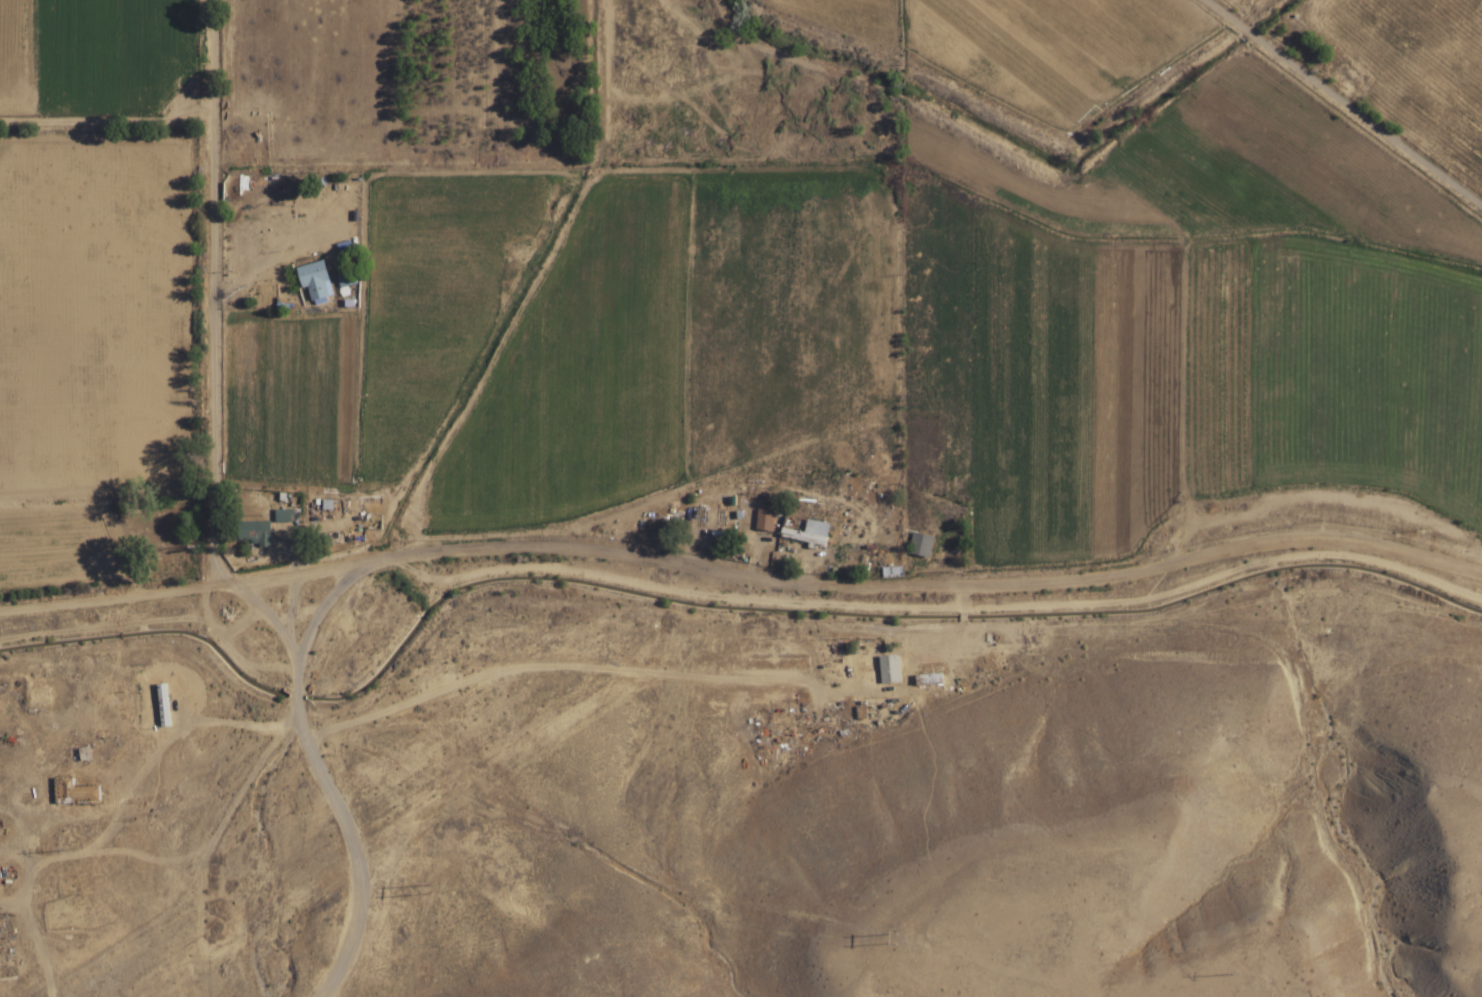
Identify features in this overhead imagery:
road: (1345, 101)
road: (109, 120)
road: (278, 240)
building: (315, 280)
building: (347, 282)
road: (217, 292)
building: (715, 519)
building: (765, 519)
building: (255, 531)
building: (809, 533)
building: (921, 544)
road: (923, 585)
road: (180, 589)
building: (890, 669)
building: (929, 679)
building: (41, 695)
building: (162, 704)
building: (79, 755)
road: (250, 783)
building: (75, 792)

